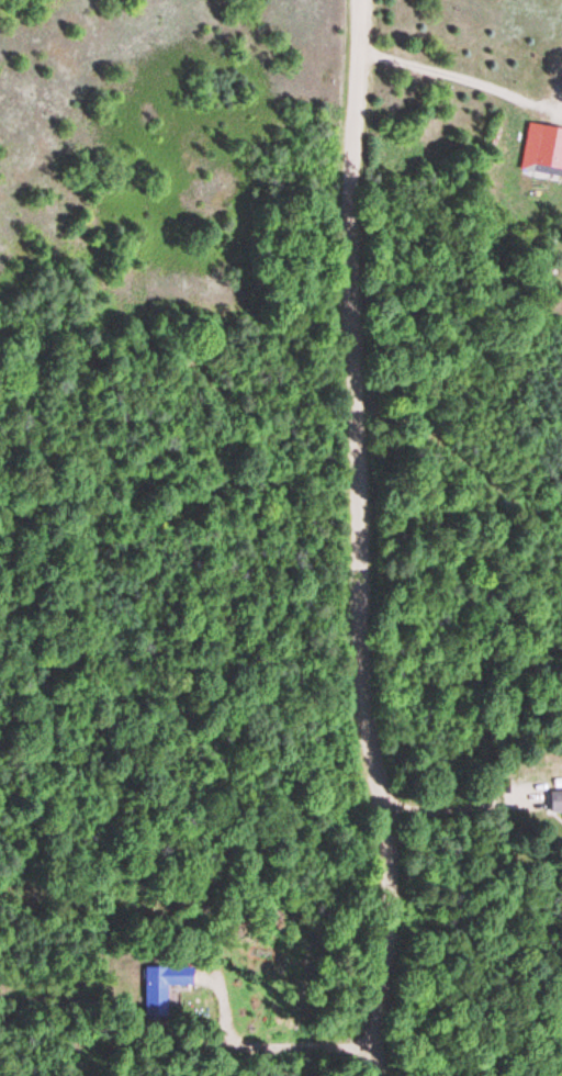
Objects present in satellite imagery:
road: (364, 539)
building: (557, 803)

